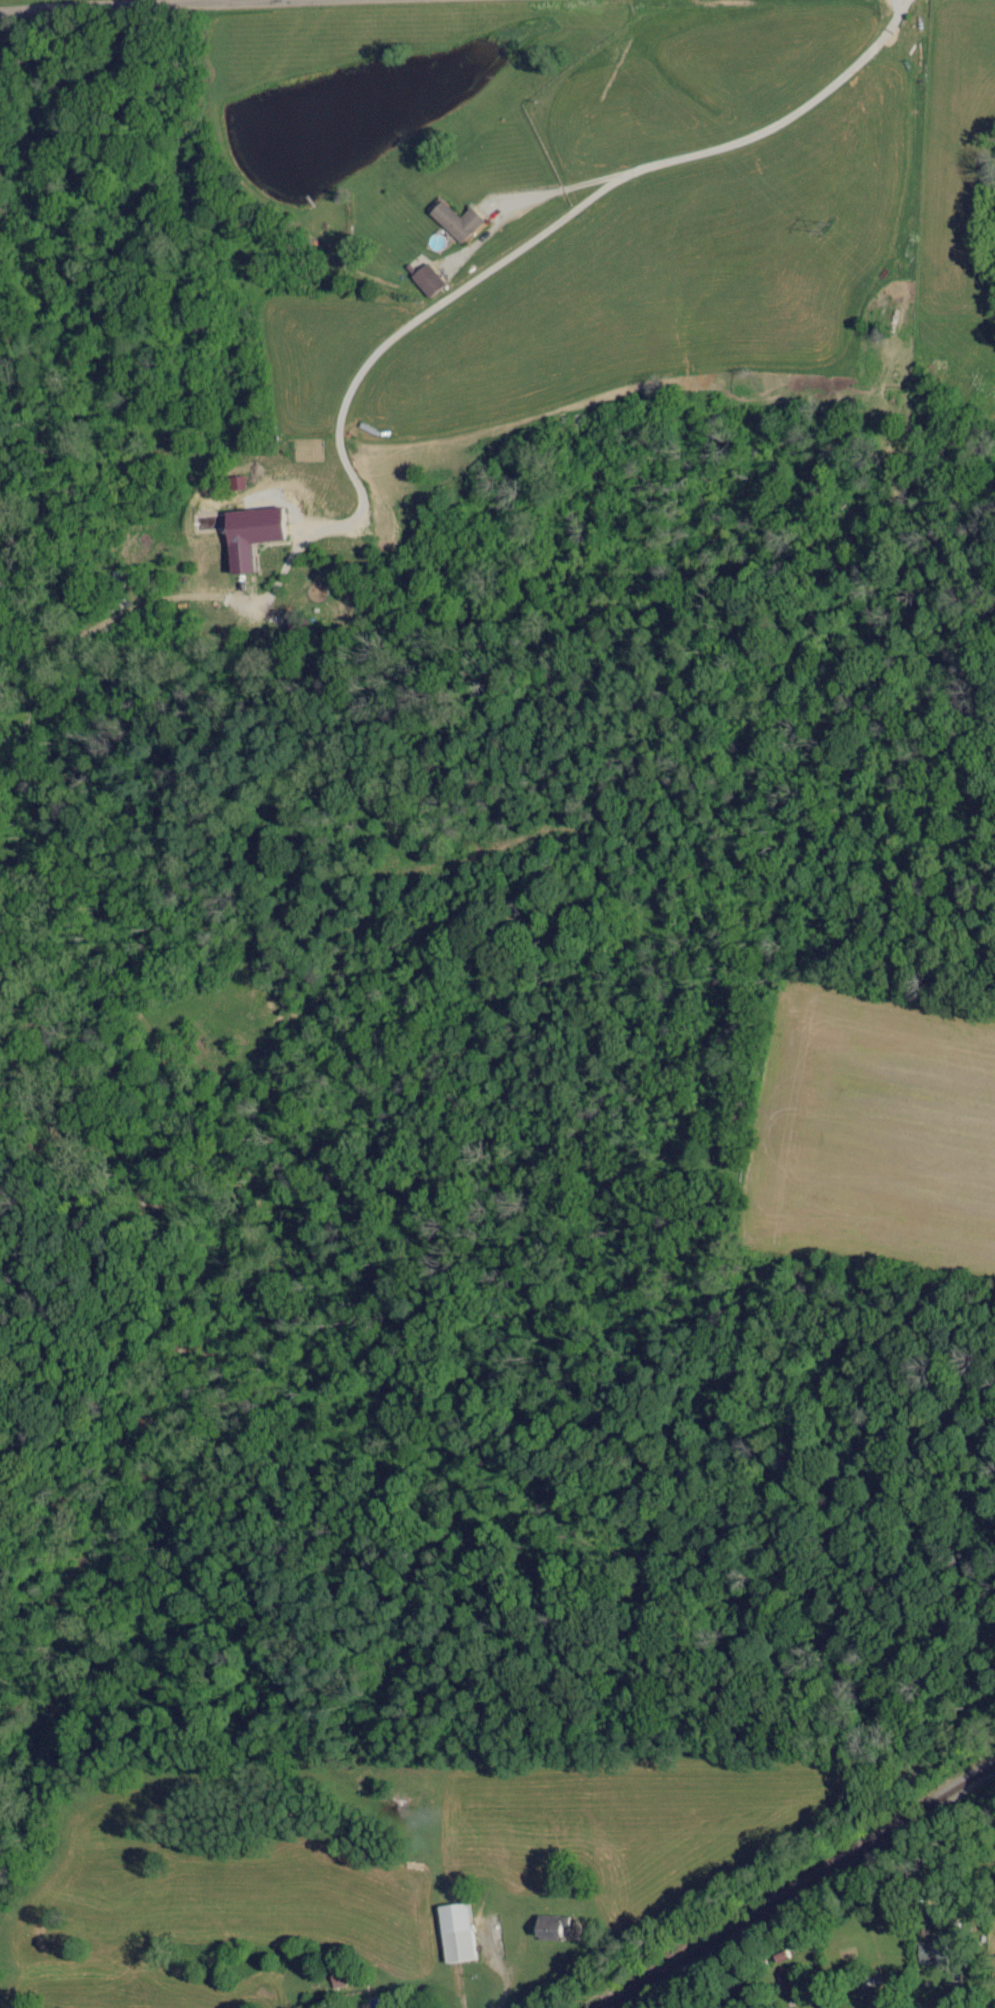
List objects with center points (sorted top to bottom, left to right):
road: (127, 4)
building: (454, 221)
road: (550, 224)
building: (425, 280)
building: (247, 535)
railway: (798, 1886)
building: (550, 1927)
building: (928, 1953)
building: (867, 1979)
building: (786, 1980)

